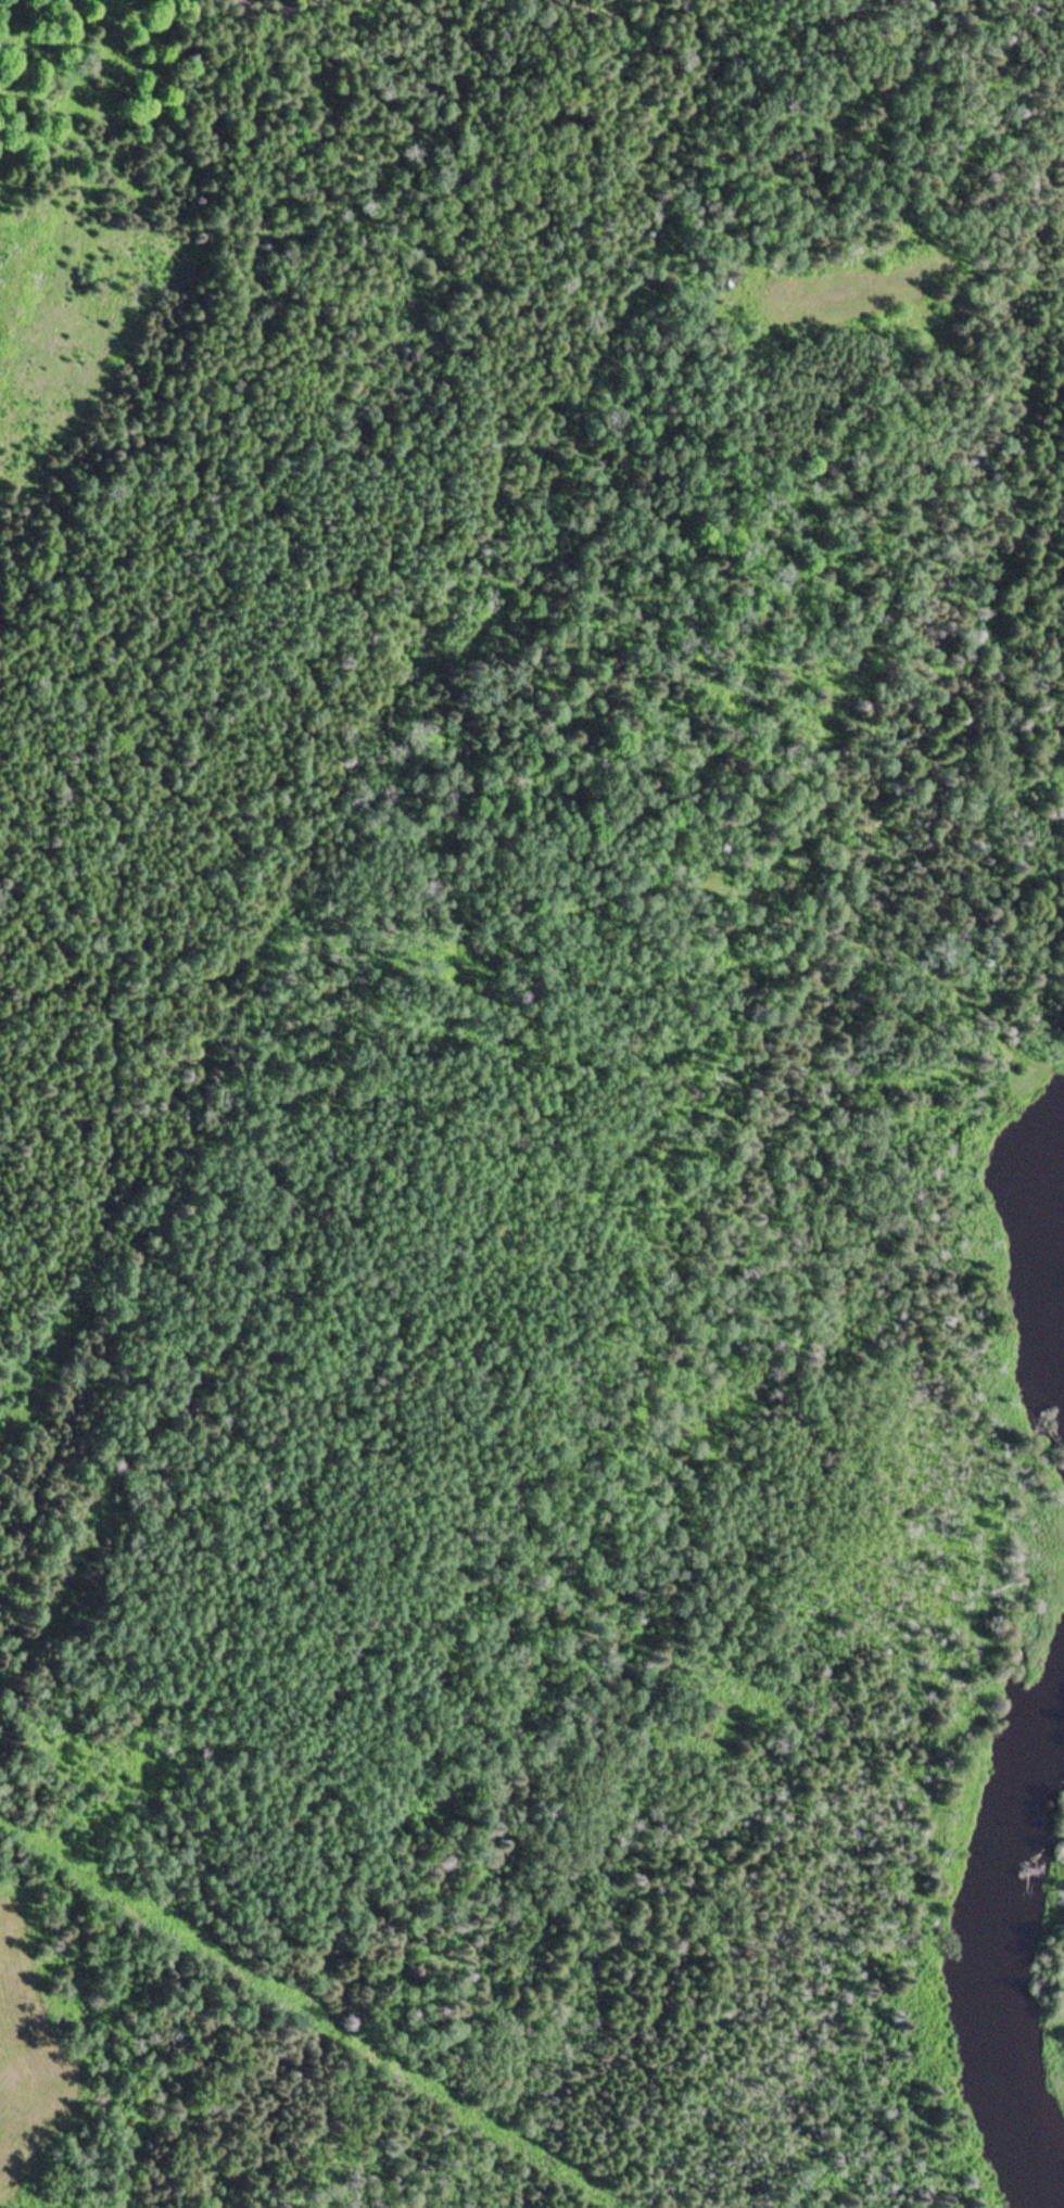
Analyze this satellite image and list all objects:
river: (1062, 1214)
river: (1001, 1942)
road: (311, 2012)
river: (1052, 2190)

